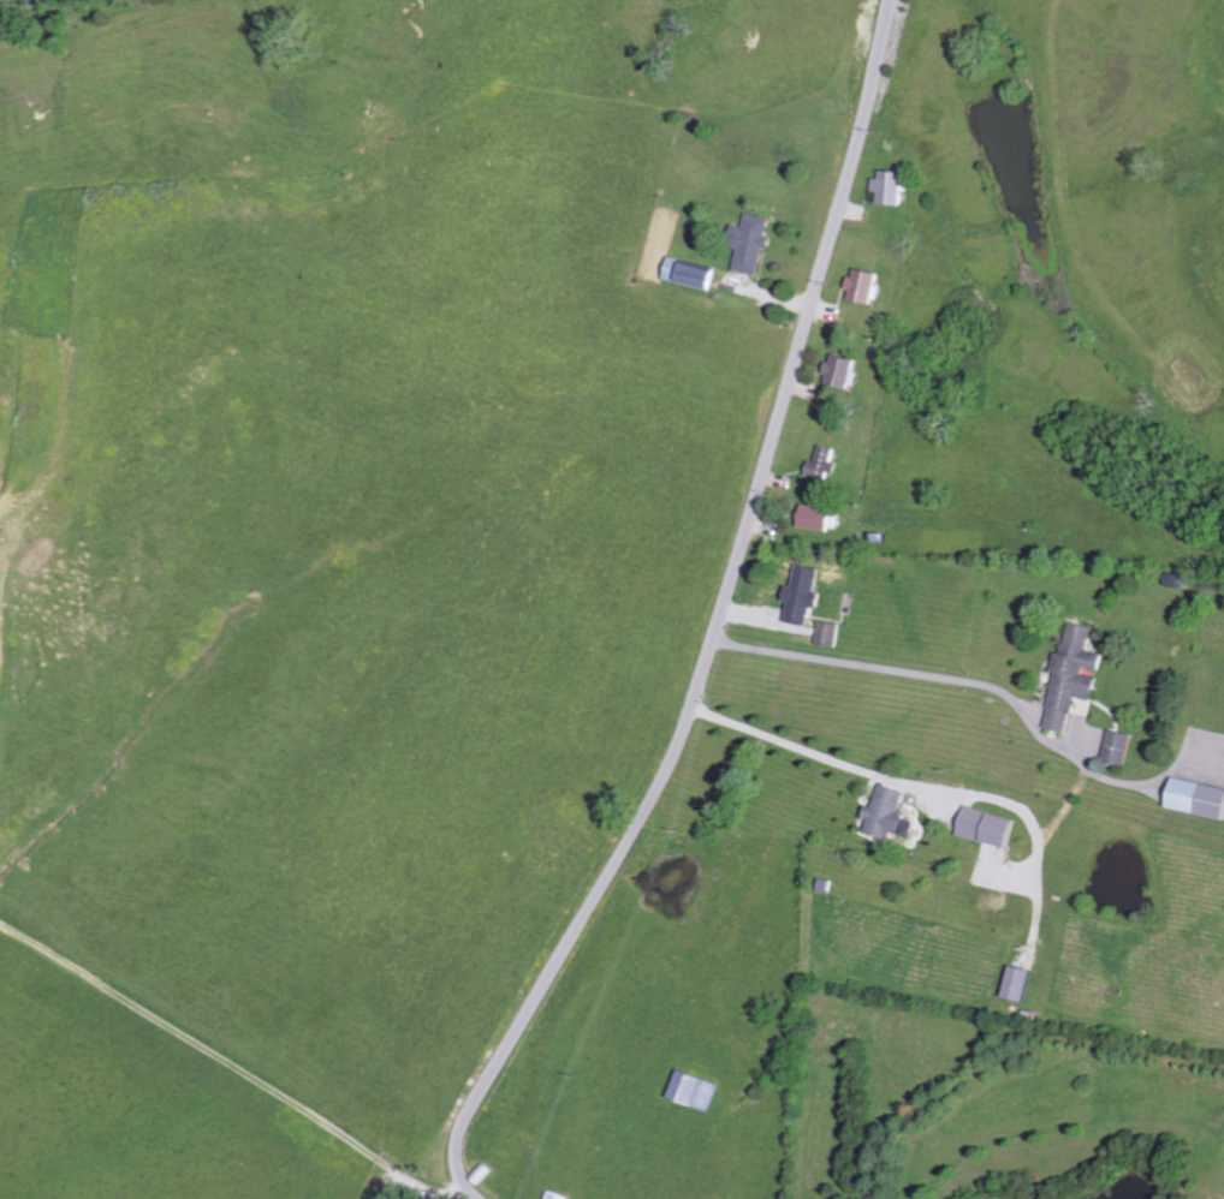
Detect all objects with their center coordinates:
building: (892, 187)
building: (755, 243)
building: (694, 274)
building: (866, 287)
building: (843, 370)
building: (826, 463)
building: (820, 518)
building: (807, 599)
road: (720, 622)
building: (833, 633)
building: (1076, 675)
building: (1121, 747)
building: (1200, 797)
building: (895, 813)
building: (993, 827)
road: (941, 895)
building: (1026, 983)
building: (703, 1090)
building: (559, 1195)

